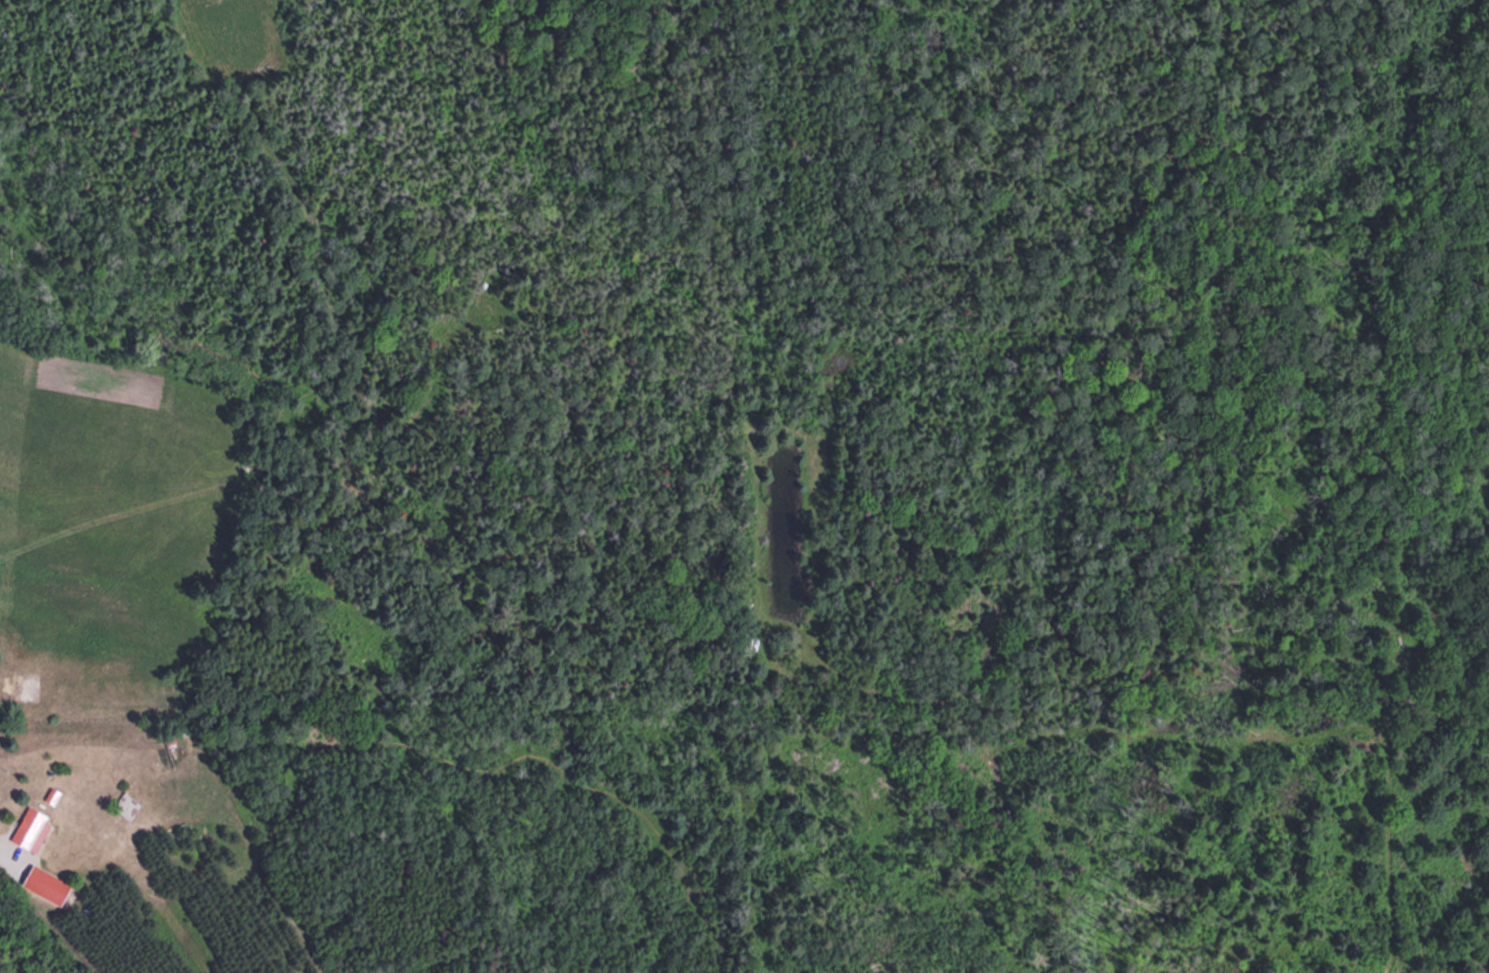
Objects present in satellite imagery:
building: (26, 827)
building: (41, 885)

